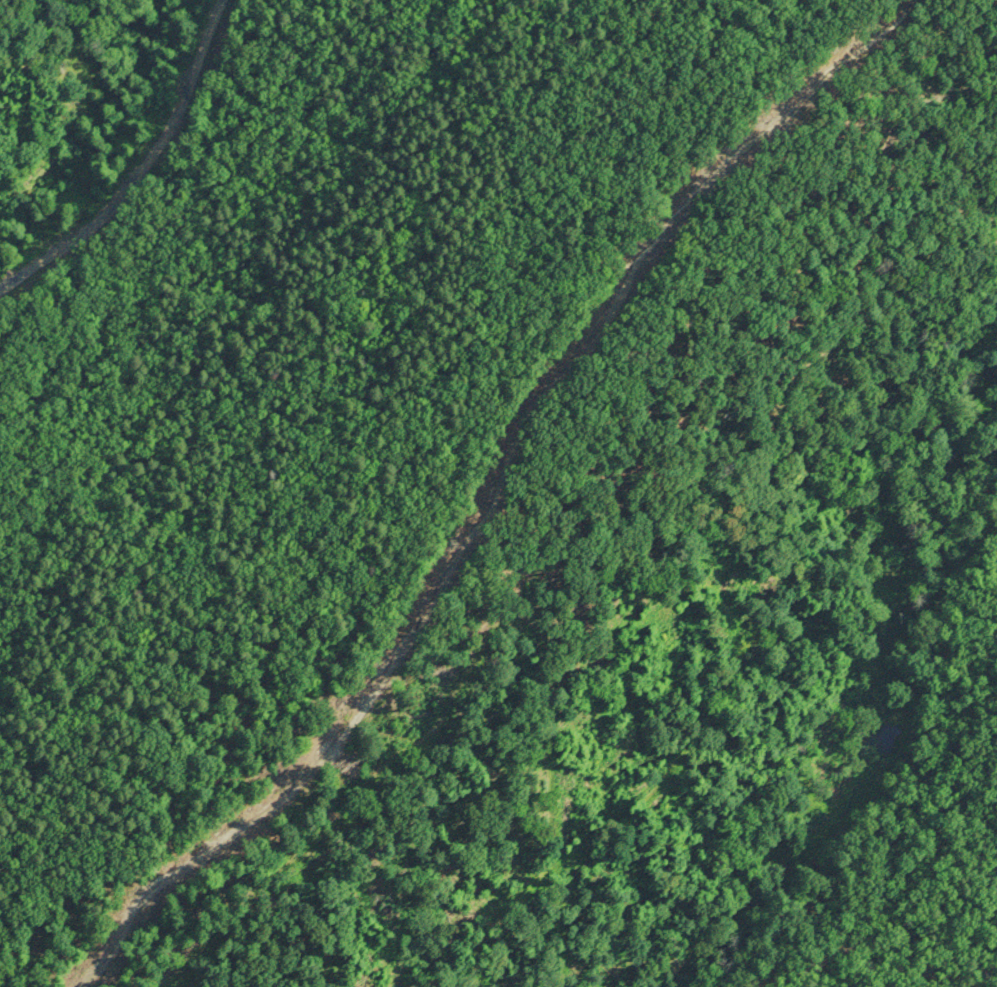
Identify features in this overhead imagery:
road: (168, 186)

